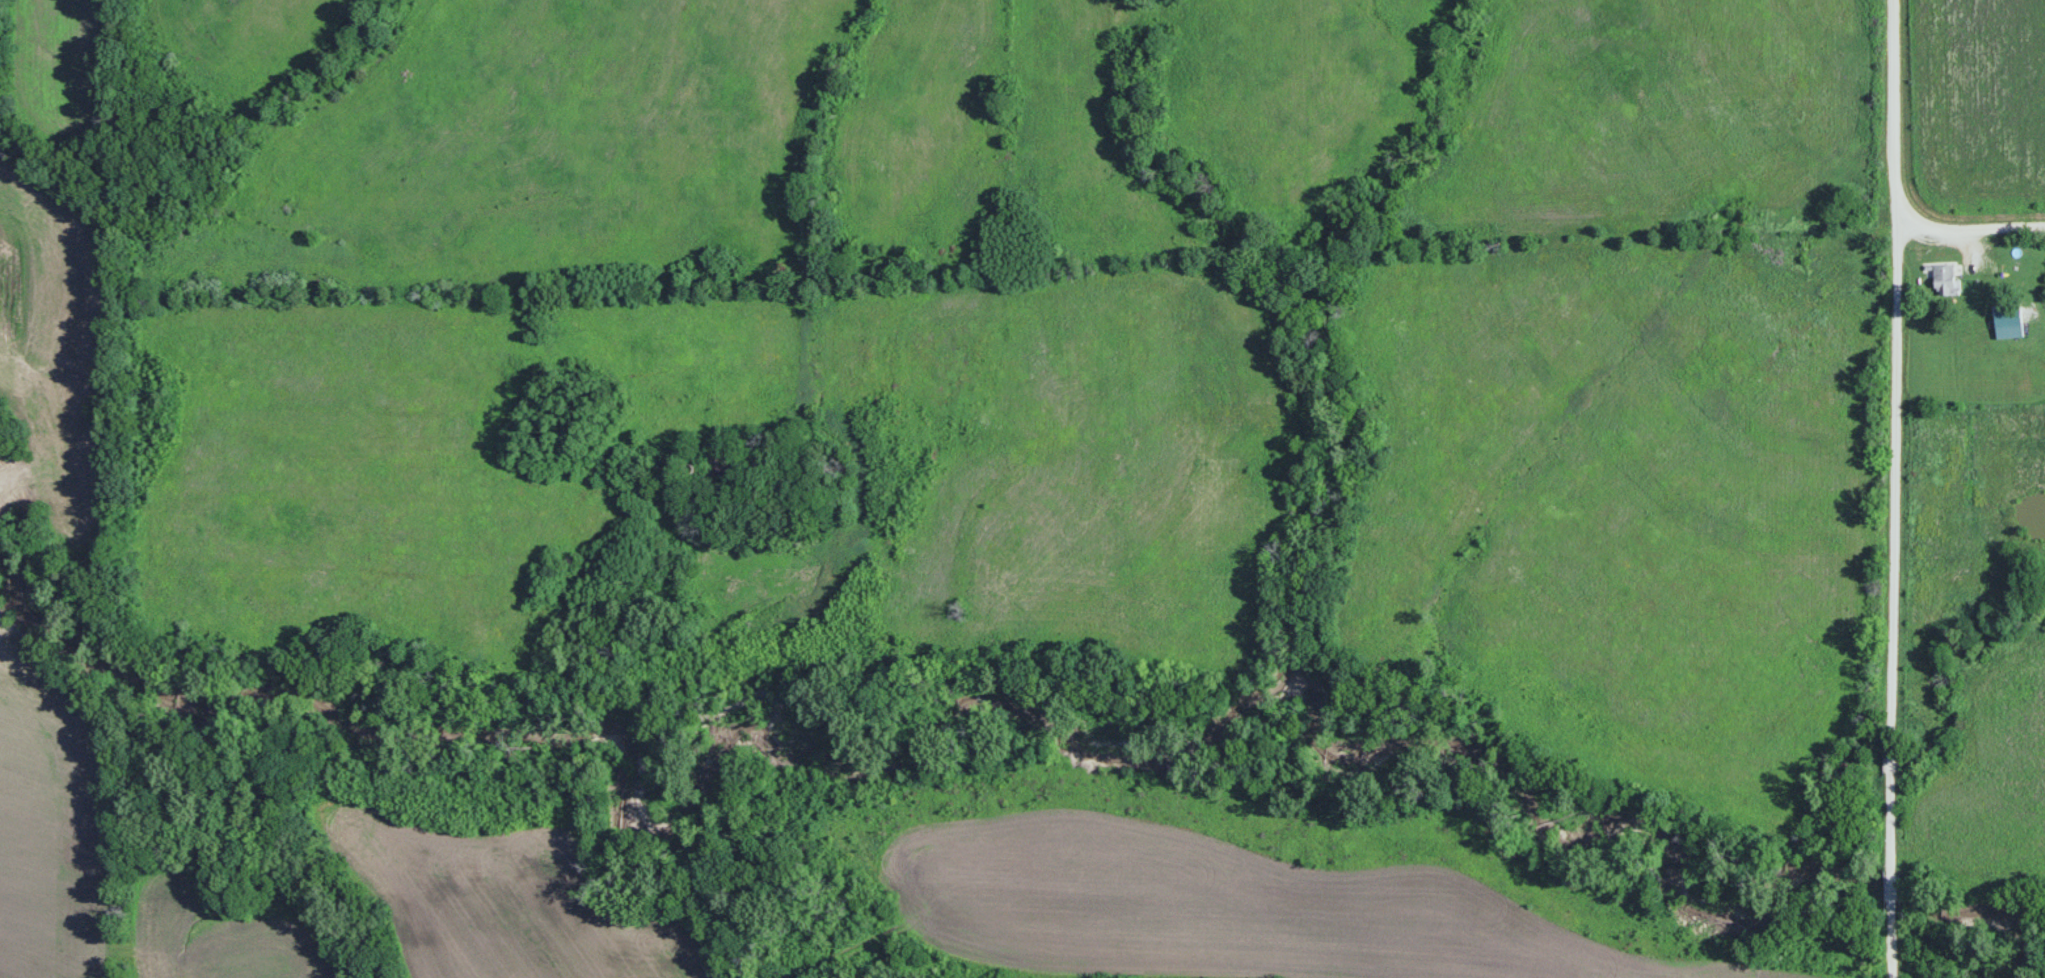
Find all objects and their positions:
road: (1970, 229)
building: (2025, 257)
building: (1945, 280)
building: (2008, 323)
road: (1895, 488)

